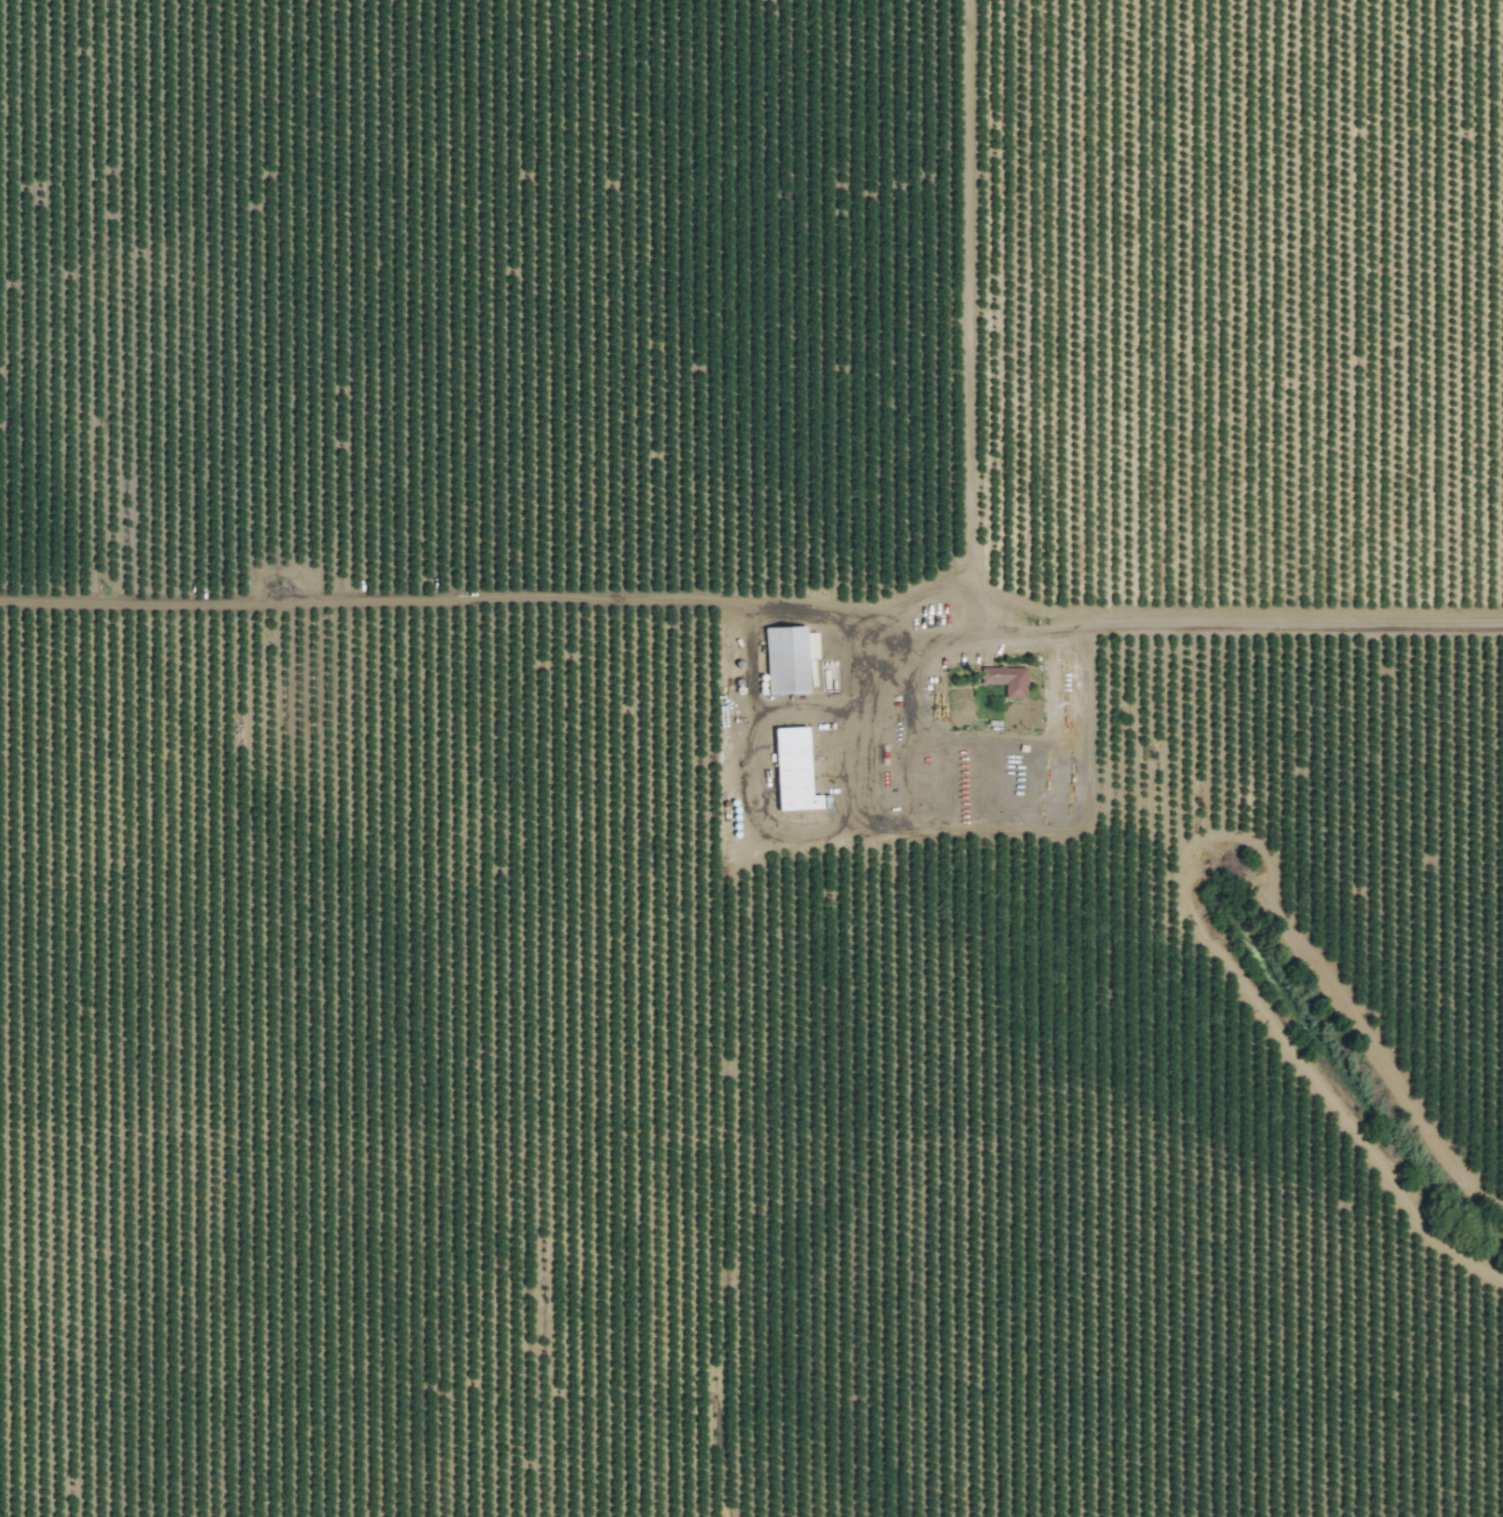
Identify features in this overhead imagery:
road: (912, 592)
road: (813, 604)
road: (1240, 630)
building: (1006, 679)
road: (1208, 715)
building: (792, 769)
road: (752, 779)
road: (985, 820)

